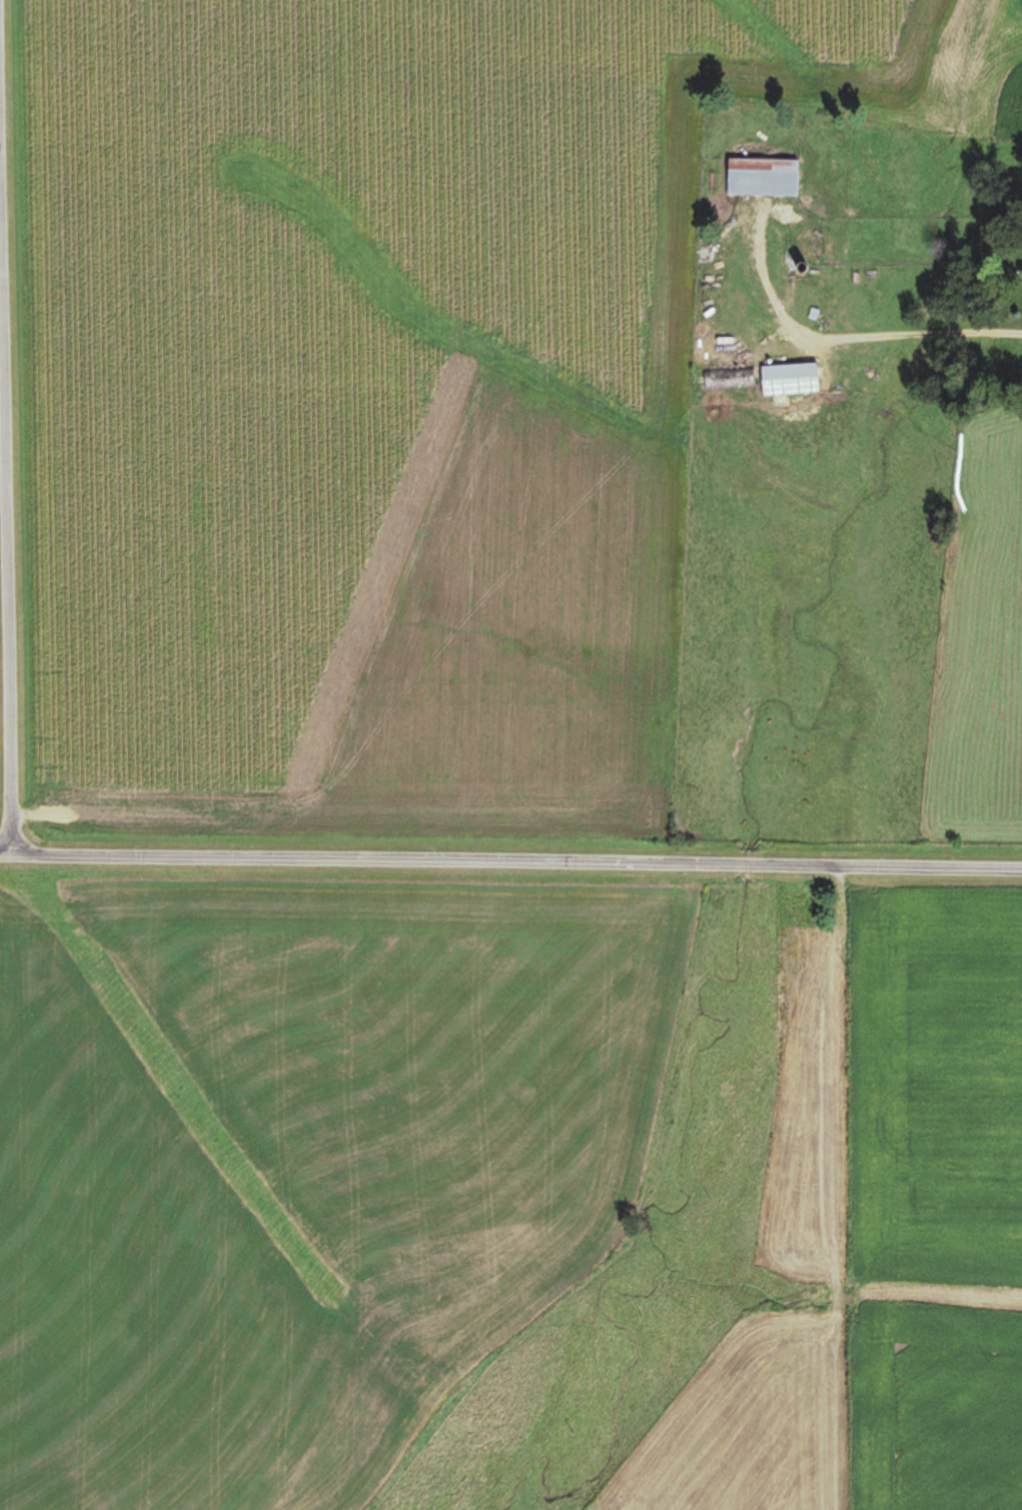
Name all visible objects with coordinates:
building: (762, 179)
building: (839, 361)
building: (727, 379)
building: (788, 380)
road: (16, 430)
road: (510, 865)

